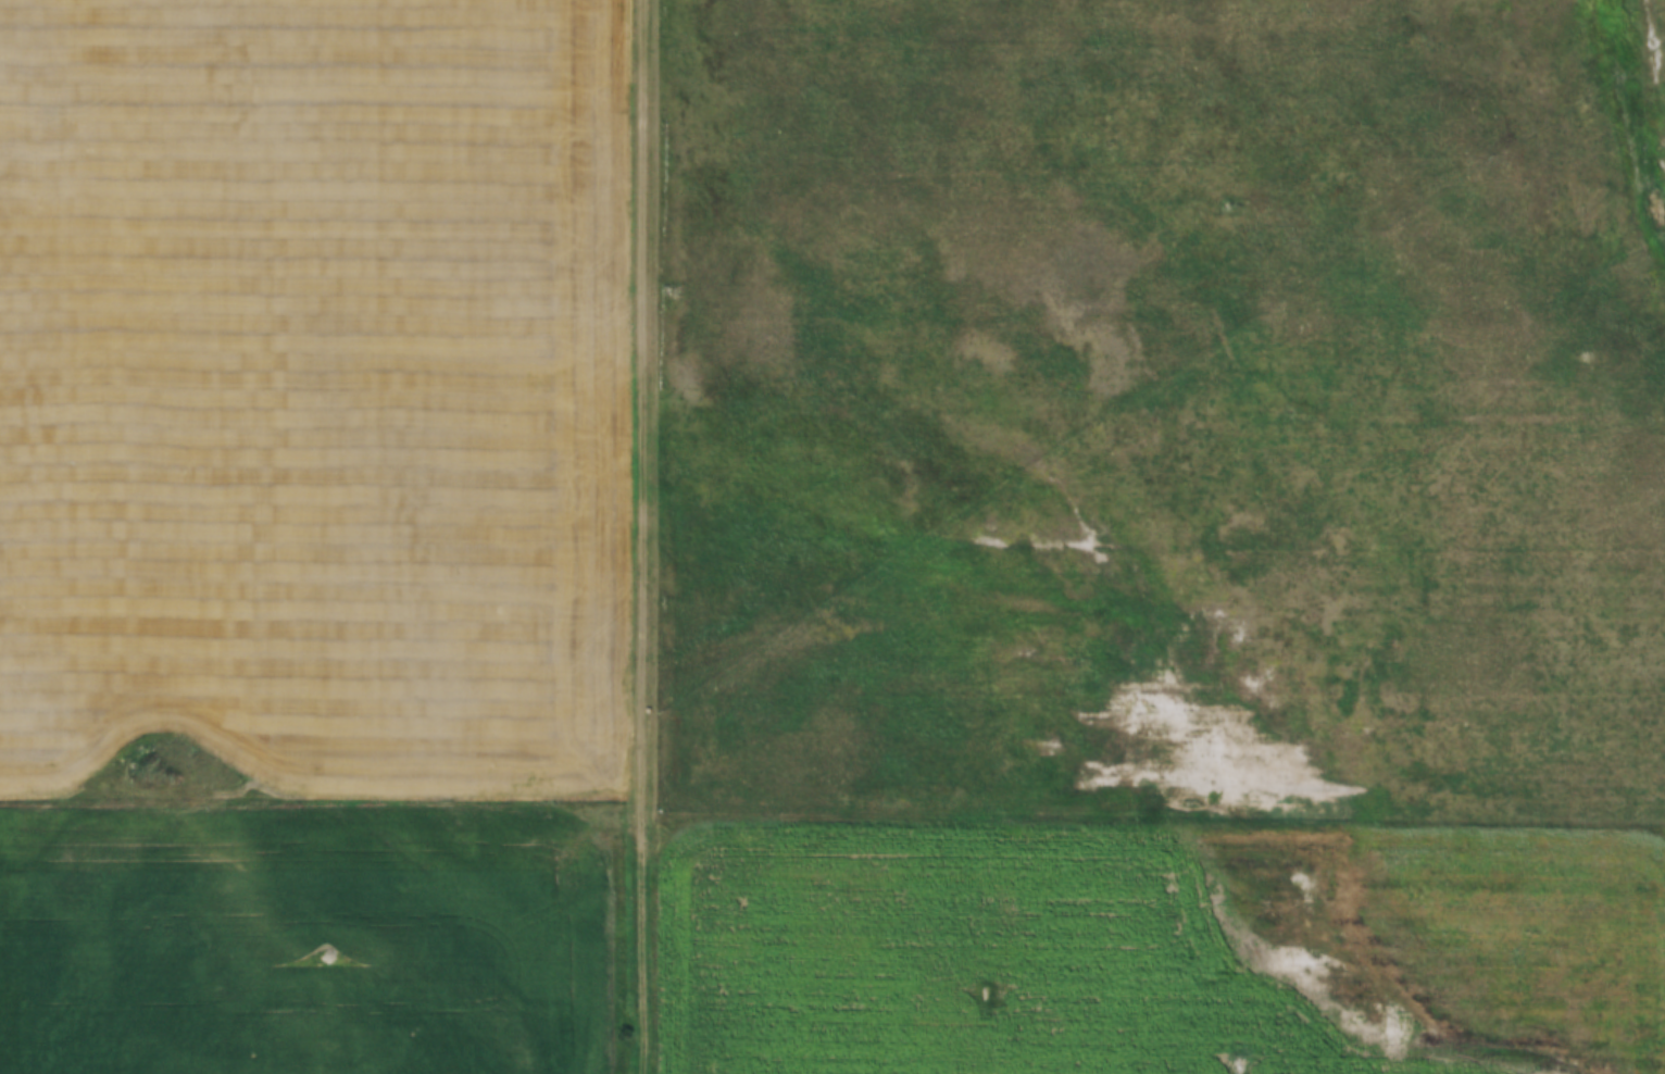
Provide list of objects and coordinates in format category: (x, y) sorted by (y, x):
road: (648, 536)
road: (300, 775)

